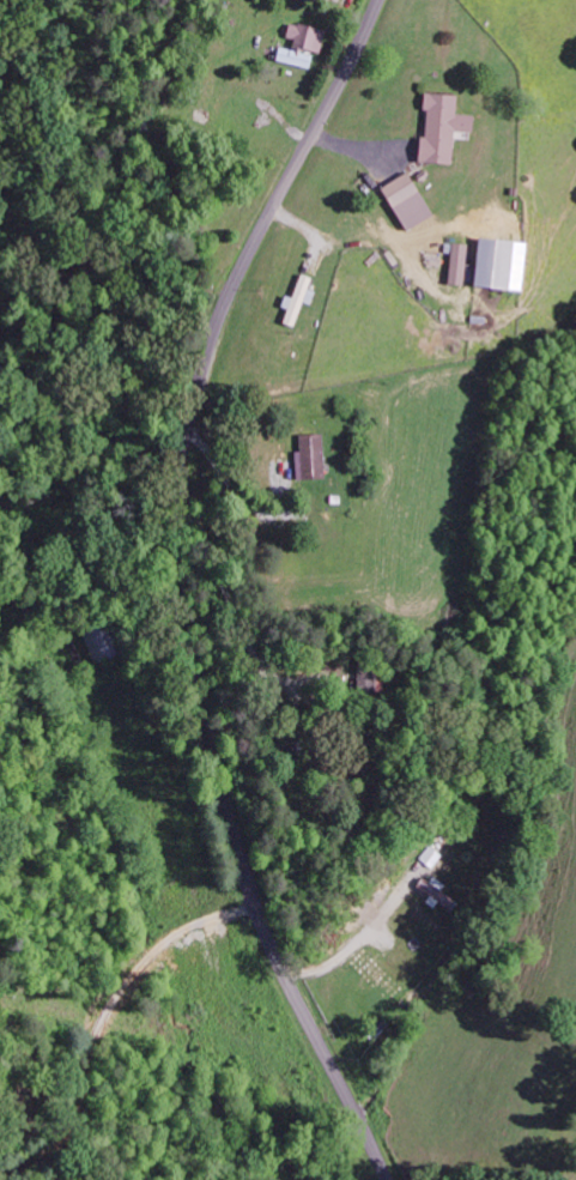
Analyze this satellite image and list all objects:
building: (304, 36)
building: (439, 127)
building: (405, 200)
building: (456, 262)
building: (498, 262)
building: (296, 299)
building: (308, 456)
road: (169, 588)
building: (429, 859)
building: (428, 891)

